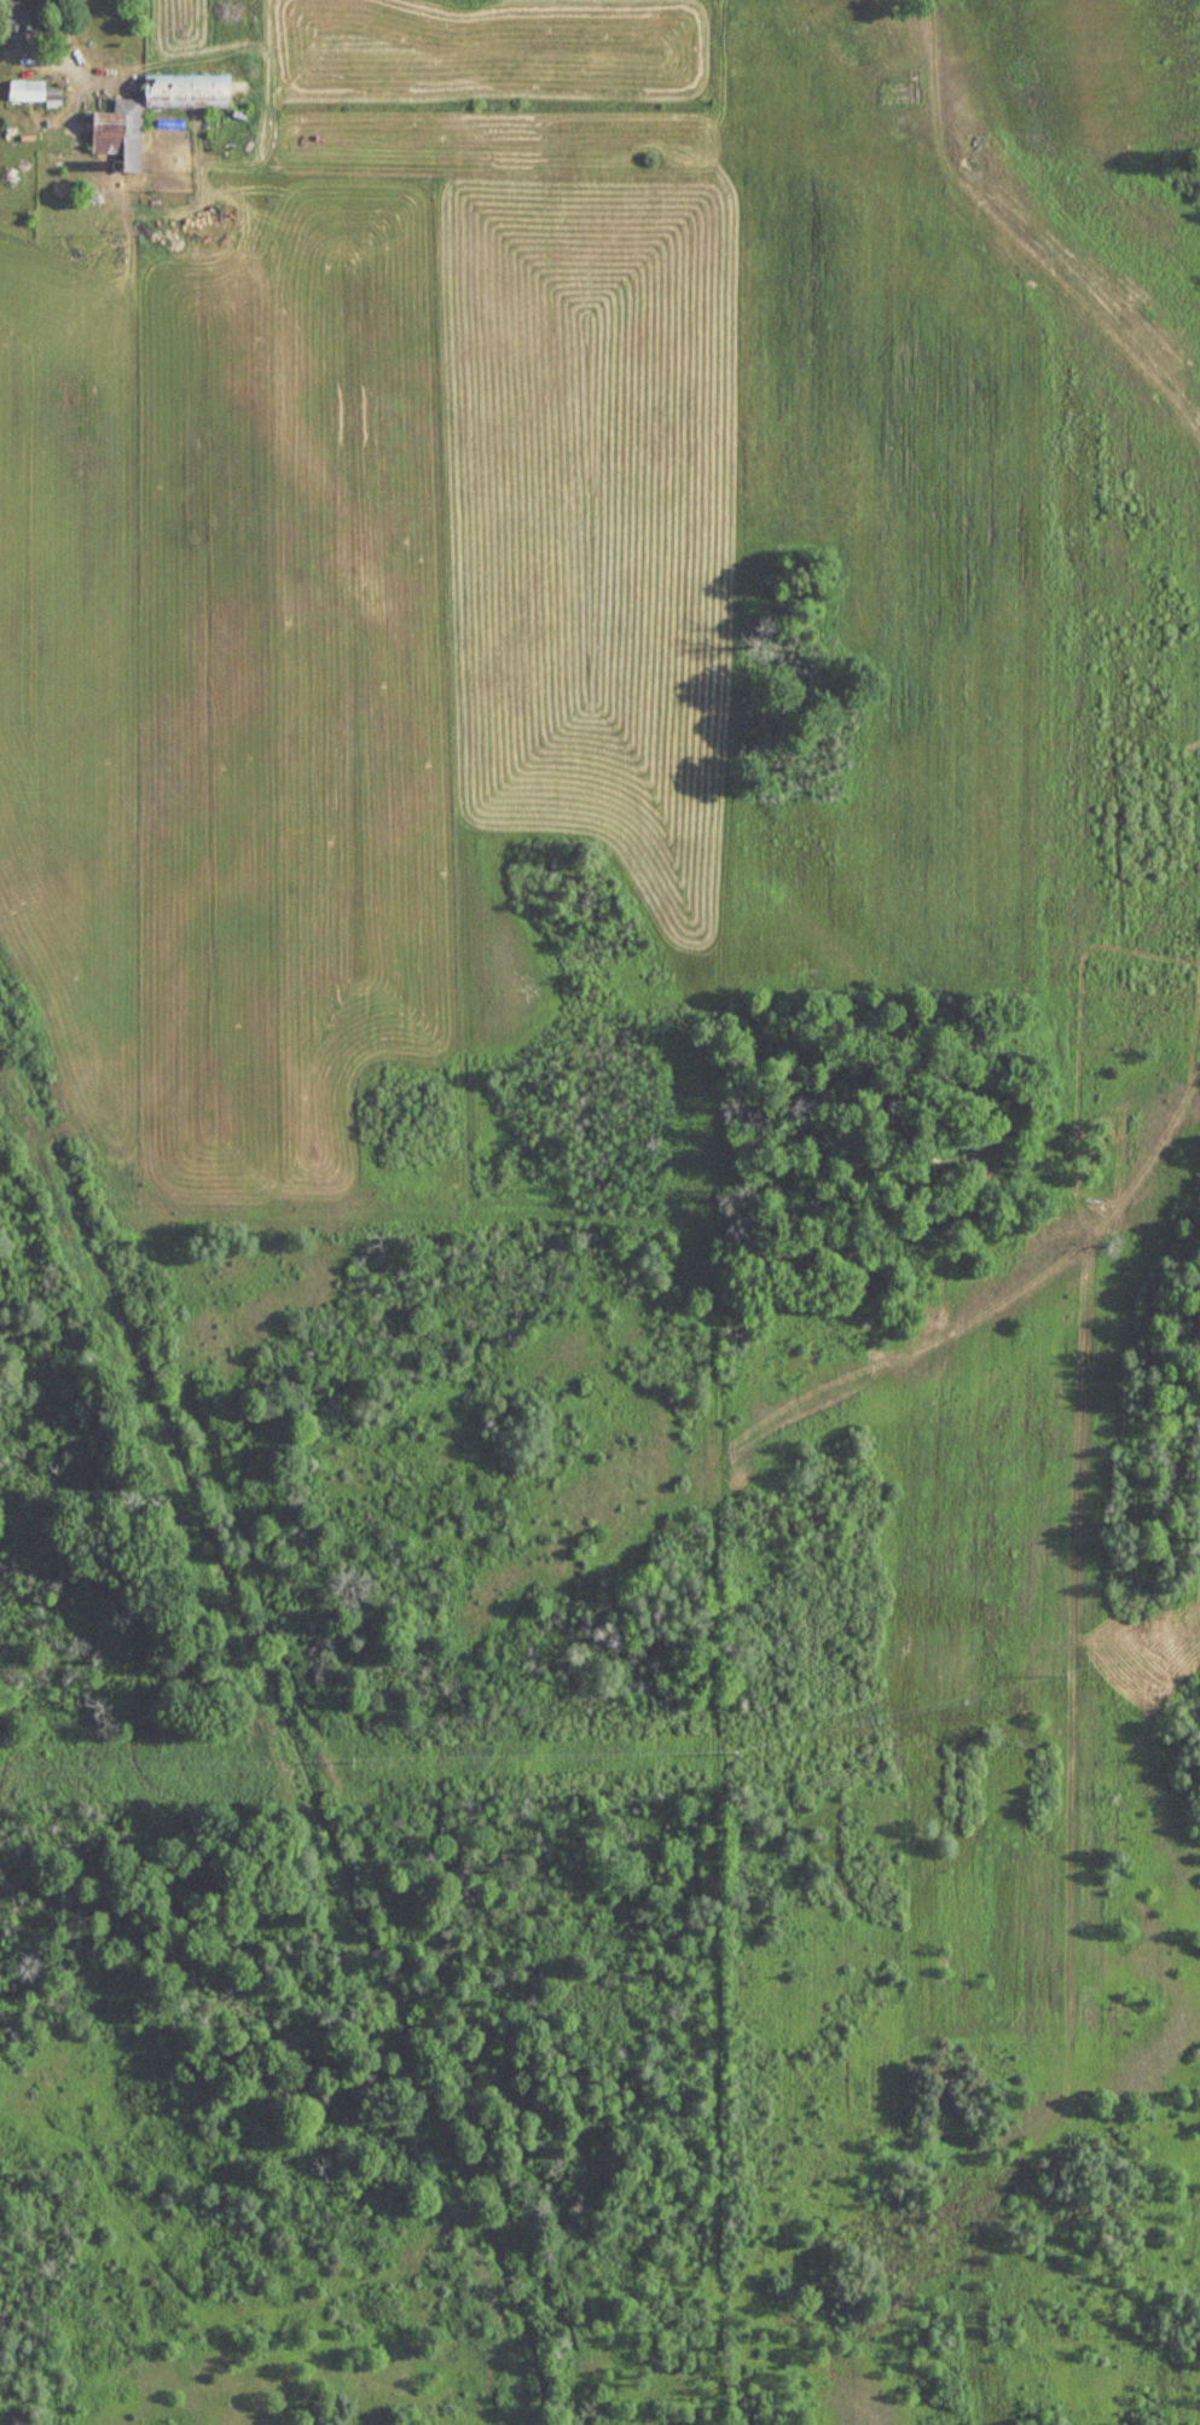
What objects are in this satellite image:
building: (18, 19)
road: (75, 77)
building: (28, 91)
building: (190, 92)
building: (121, 135)

